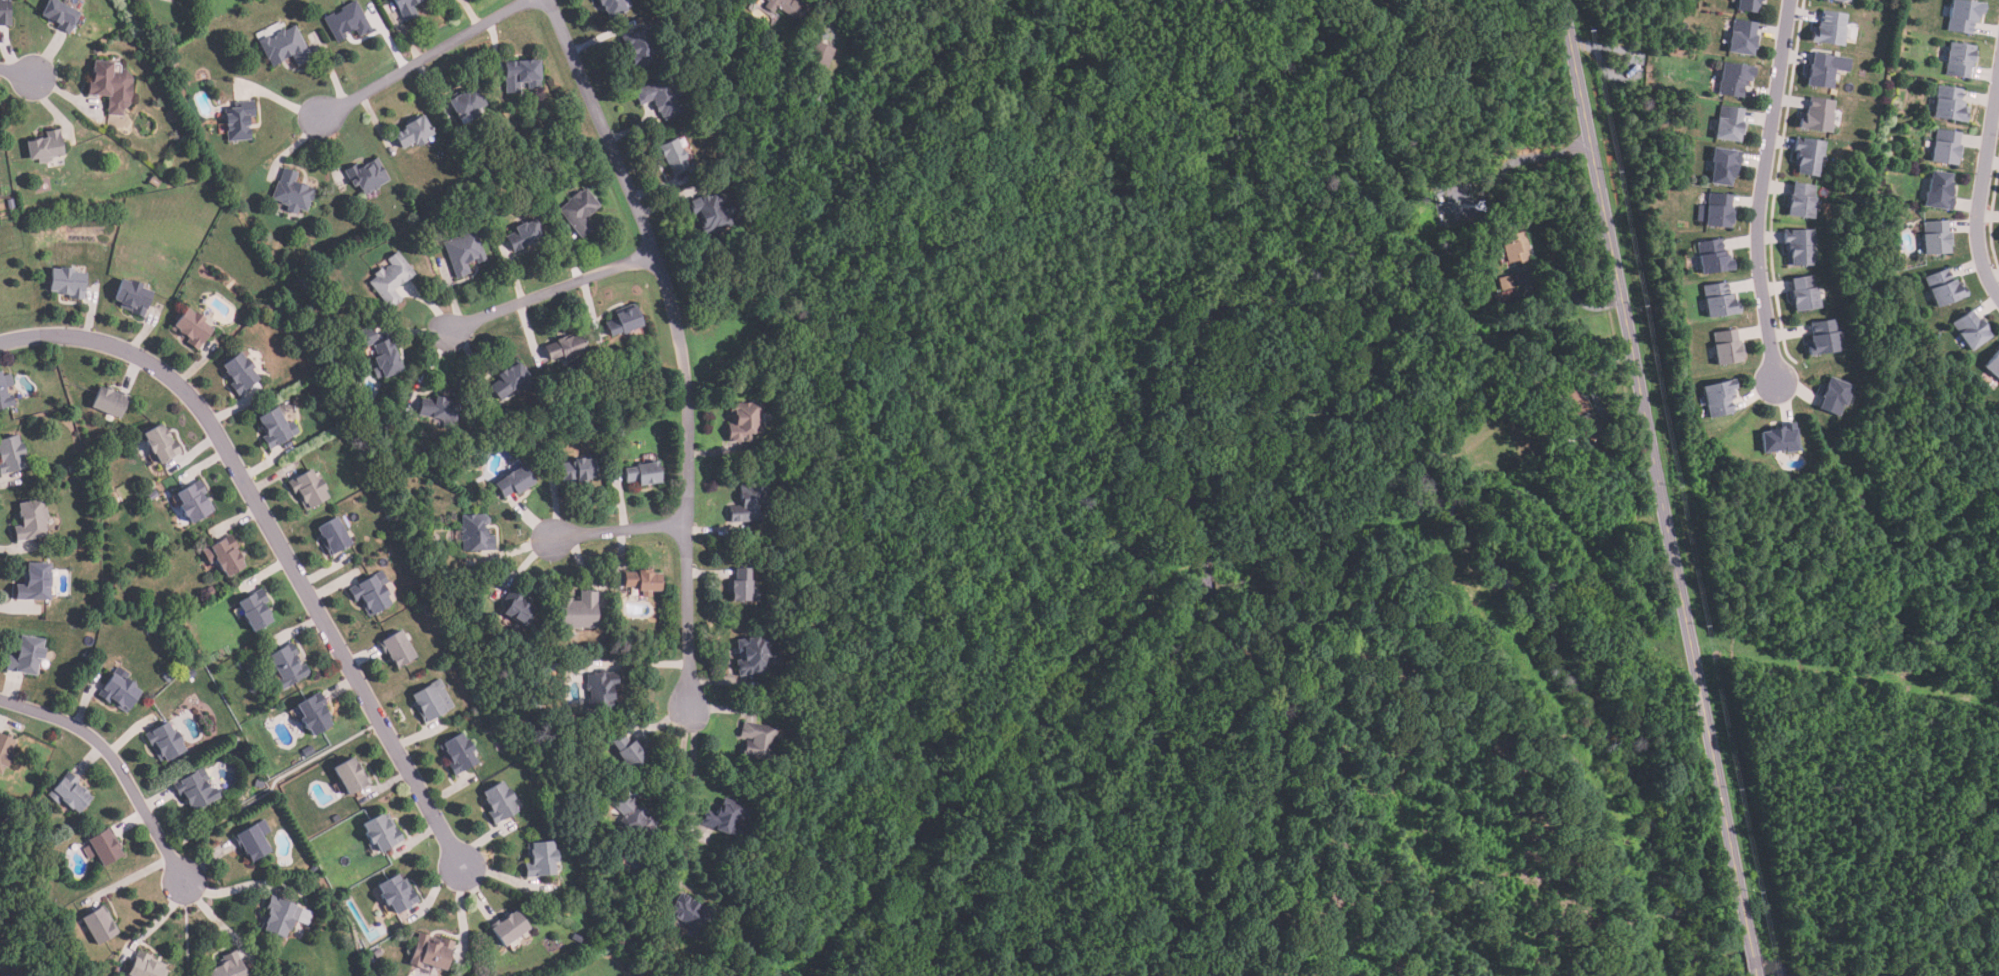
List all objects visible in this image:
building: (1765, 0)
building: (1839, 0)
building: (1750, 5)
building: (611, 7)
building: (787, 7)
building: (406, 8)
building: (5, 13)
road: (827, 14)
building: (60, 15)
building: (1966, 15)
building: (347, 22)
building: (1832, 28)
building: (1334, 31)
building: (1745, 37)
building: (285, 47)
building: (638, 48)
building: (820, 54)
building: (1962, 59)
road: (424, 60)
building: (1828, 69)
road: (17, 71)
building: (521, 75)
building: (1735, 79)
building: (111, 86)
building: (818, 92)
building: (660, 97)
building: (466, 102)
building: (1951, 104)
building: (1819, 116)
building: (239, 120)
building: (1731, 123)
building: (414, 133)
building: (45, 147)
building: (1949, 147)
building: (674, 155)
building: (1809, 156)
road: (1528, 160)
building: (1725, 166)
building: (367, 176)
building: (154, 182)
road: (1981, 186)
road: (1759, 190)
building: (1942, 190)
building: (292, 192)
building: (1804, 201)
building: (1859, 201)
building: (579, 211)
building: (1720, 211)
building: (711, 212)
building: (524, 235)
building: (1938, 237)
building: (1516, 247)
building: (1800, 247)
building: (463, 252)
building: (1714, 258)
building: (390, 279)
building: (305, 282)
building: (1507, 282)
building: (68, 283)
building: (1946, 289)
road: (1572, 293)
building: (1806, 294)
building: (1506, 295)
building: (133, 297)
road: (550, 301)
building: (1720, 301)
building: (278, 307)
building: (624, 321)
building: (193, 328)
building: (1974, 330)
building: (367, 337)
building: (1825, 339)
road: (679, 343)
building: (1728, 347)
building: (566, 349)
building: (385, 359)
building: (1994, 365)
building: (239, 373)
building: (510, 381)
building: (2, 391)
road: (1597, 395)
building: (1836, 396)
building: (1720, 398)
building: (109, 401)
building: (1572, 403)
building: (439, 410)
building: (742, 420)
building: (1587, 425)
building: (276, 429)
building: (1565, 439)
building: (1782, 439)
building: (161, 444)
building: (11, 454)
road: (1655, 466)
building: (578, 470)
building: (644, 473)
building: (514, 482)
building: (308, 490)
building: (152, 495)
building: (193, 502)
building: (110, 503)
building: (748, 504)
building: (30, 521)
building: (475, 534)
road: (276, 537)
building: (334, 537)
road: (619, 543)
building: (227, 555)
building: (643, 581)
building: (35, 583)
building: (742, 587)
building: (372, 594)
building: (255, 609)
building: (519, 609)
building: (578, 611)
building: (398, 649)
building: (754, 654)
building: (26, 655)
building: (286, 667)
building: (190, 673)
building: (168, 676)
building: (601, 689)
building: (119, 691)
building: (432, 700)
building: (313, 714)
building: (165, 741)
building: (757, 741)
building: (234, 744)
building: (4, 750)
building: (308, 751)
building: (459, 751)
building: (628, 751)
road: (116, 764)
road: (692, 770)
building: (351, 774)
building: (259, 784)
building: (195, 789)
building: (69, 793)
road: (680, 797)
building: (500, 801)
building: (635, 818)
building: (726, 818)
building: (336, 819)
building: (383, 831)
building: (251, 843)
building: (103, 847)
building: (541, 858)
building: (397, 892)
building: (689, 912)
building: (279, 916)
building: (99, 925)
building: (509, 926)
building: (430, 952)
road: (1751, 954)
building: (229, 966)
building: (145, 967)

